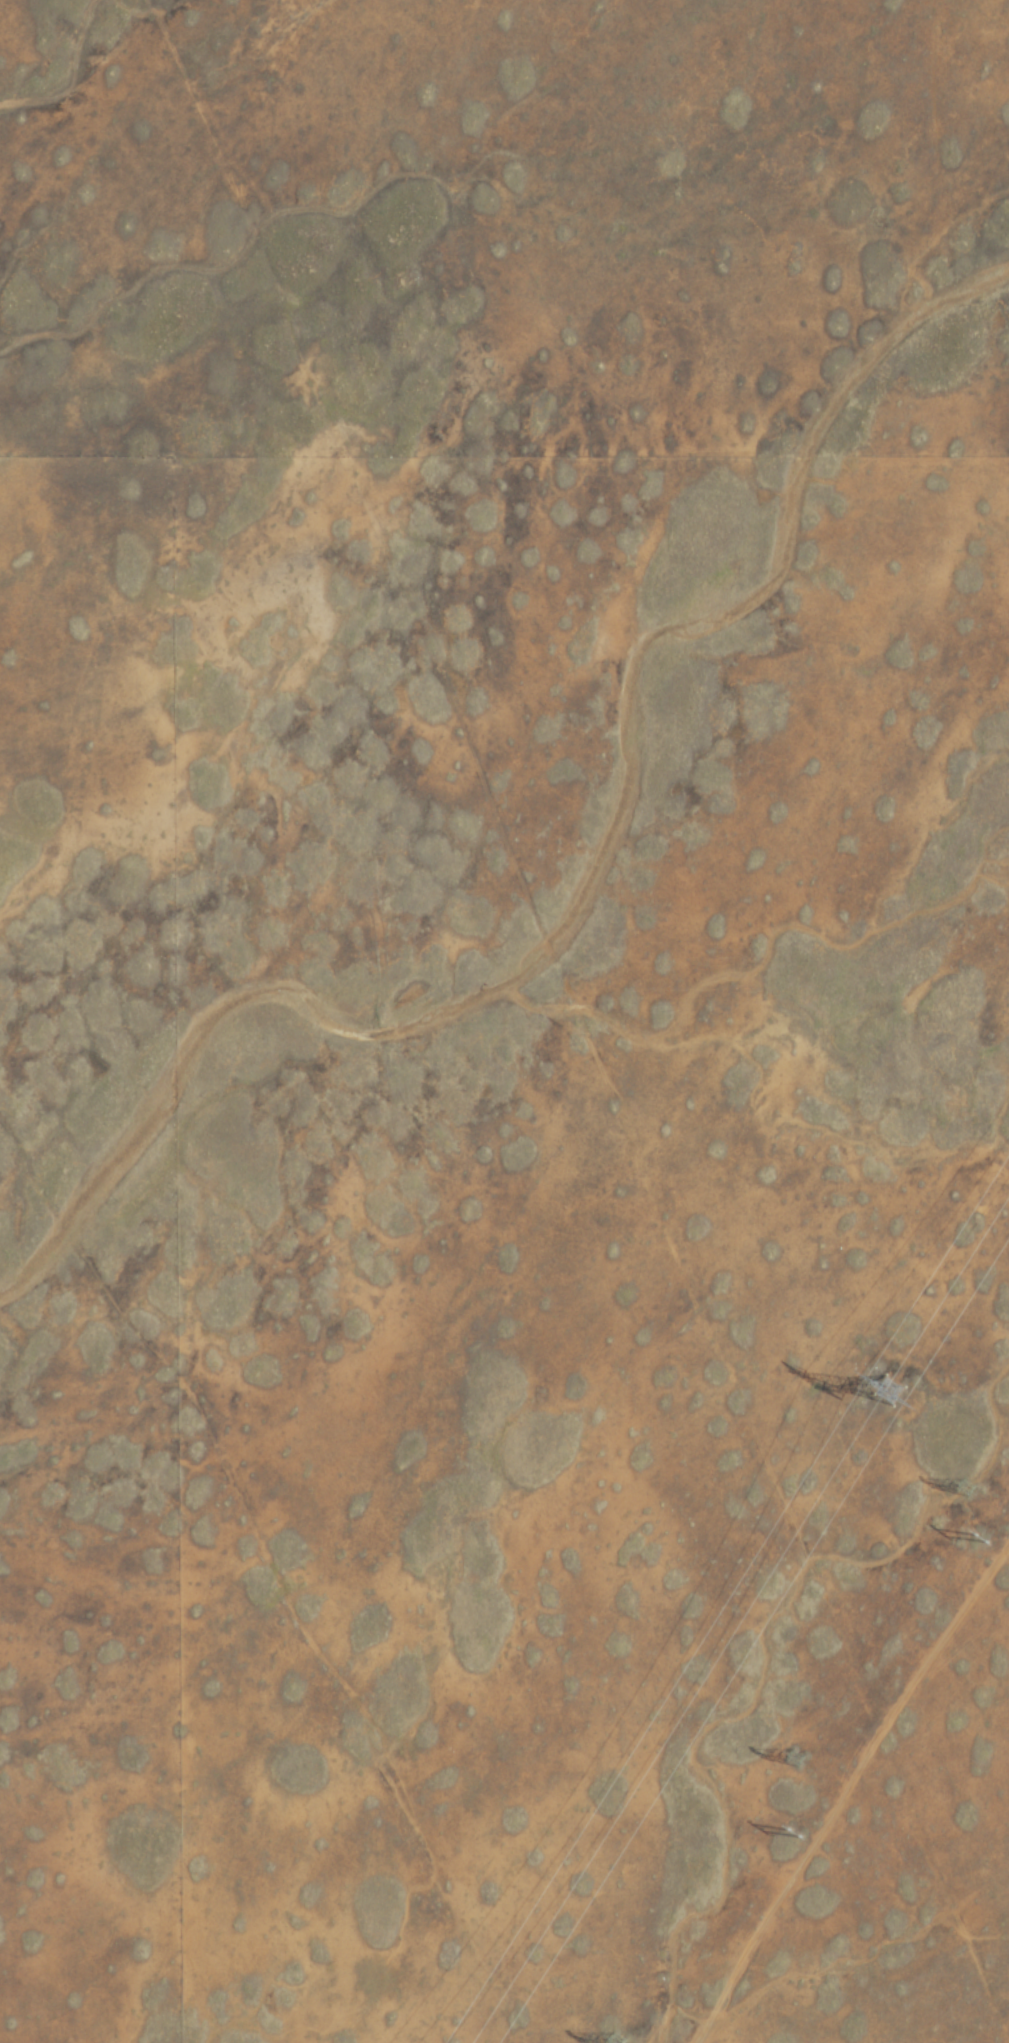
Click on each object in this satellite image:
power tower: (892, 1405)
power tower: (963, 1514)
power tower: (988, 1544)
power tower: (803, 1763)
road: (844, 1786)
power tower: (801, 1841)
power tower: (619, 2041)

